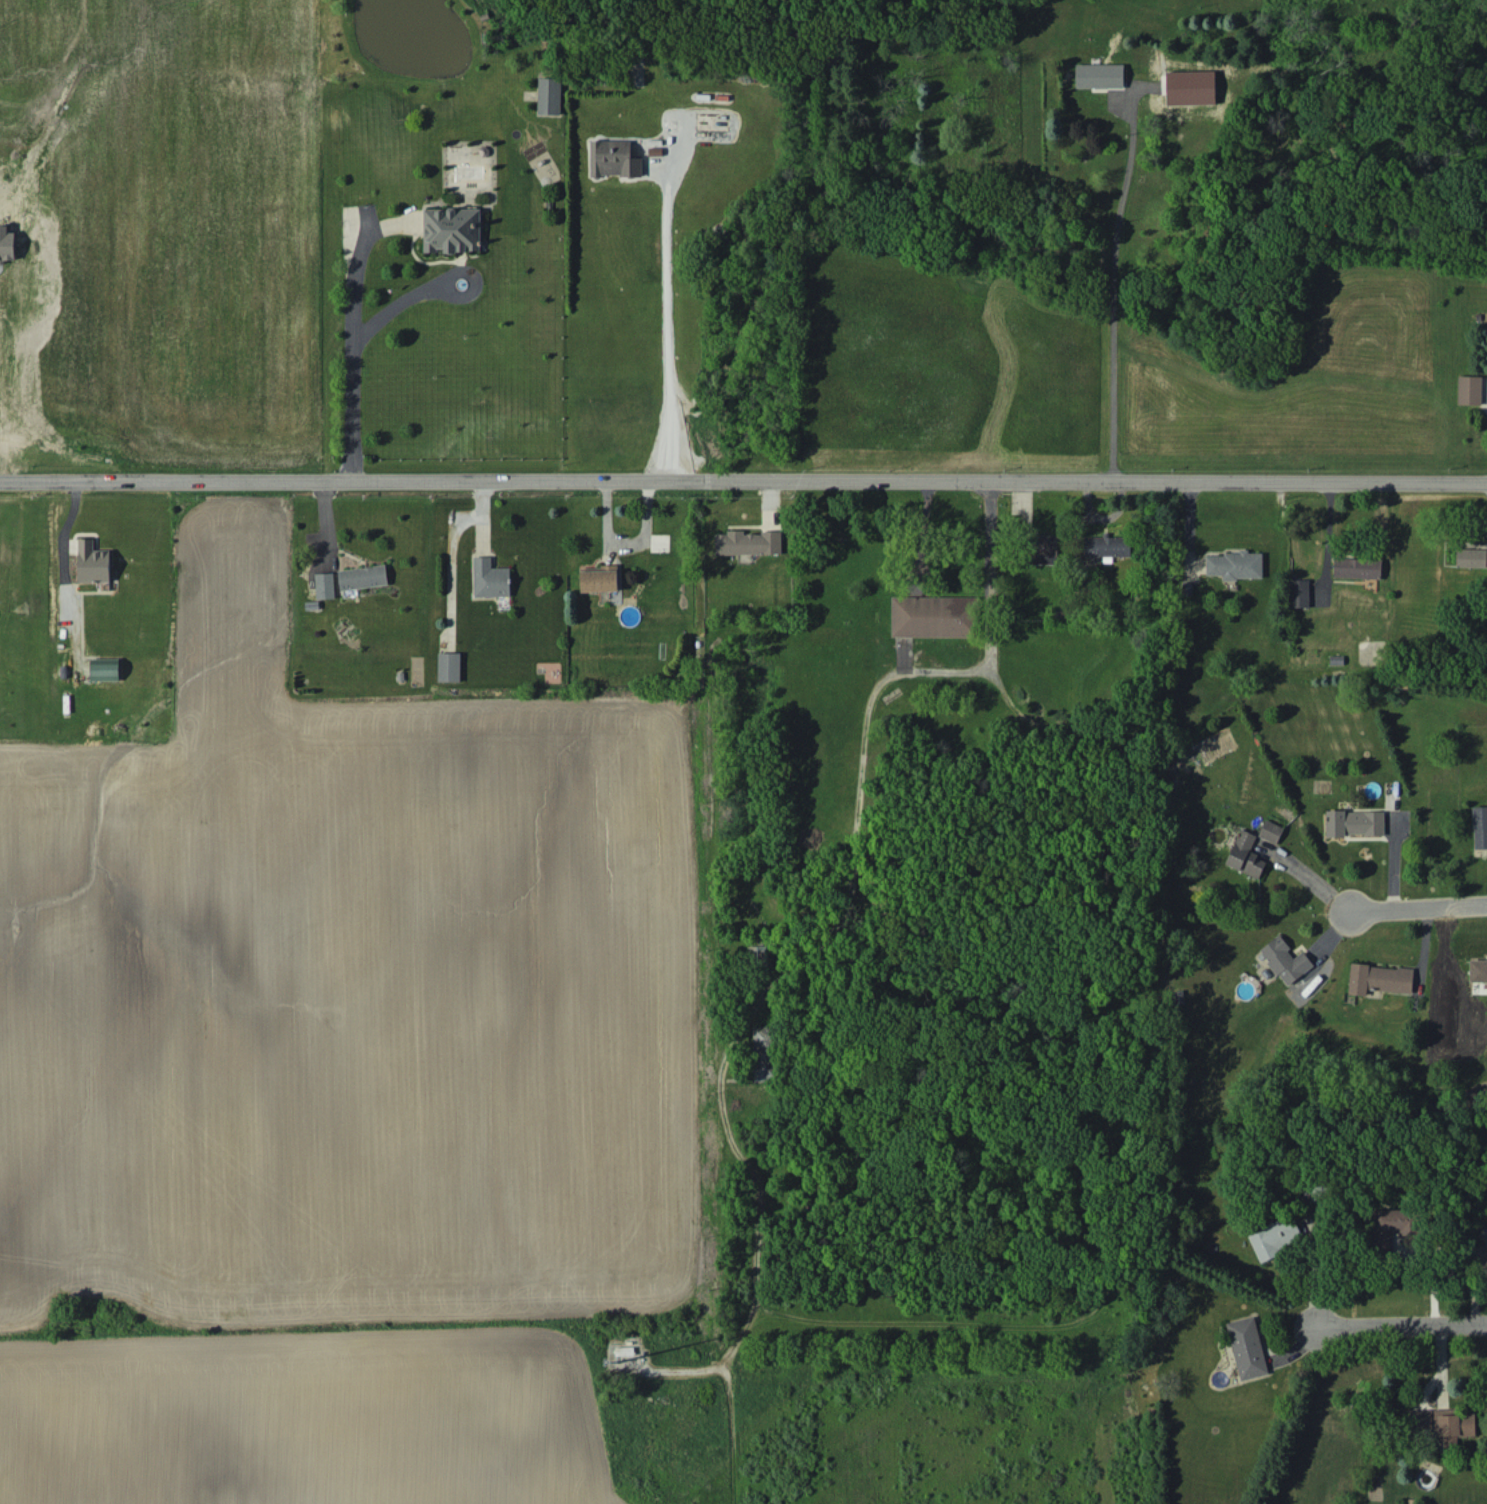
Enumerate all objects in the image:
building: (1099, 75)
building: (1190, 87)
building: (549, 95)
building: (654, 150)
building: (614, 158)
building: (451, 229)
building: (7, 243)
road: (436, 276)
road: (1117, 290)
road: (660, 316)
road: (350, 349)
building: (1469, 389)
road: (743, 473)
road: (914, 525)
road: (58, 530)
road: (1323, 532)
building: (748, 542)
building: (1106, 545)
building: (1044, 548)
building: (1471, 557)
building: (92, 562)
road: (987, 564)
building: (1235, 564)
building: (1357, 567)
building: (363, 576)
building: (490, 578)
building: (599, 578)
building: (325, 585)
building: (1299, 592)
building: (933, 616)
building: (449, 667)
building: (104, 669)
road: (857, 810)
building: (1355, 822)
building: (1480, 826)
building: (1270, 830)
building: (1245, 854)
road: (1408, 901)
building: (1285, 960)
building: (1478, 970)
building: (1379, 978)
building: (764, 1052)
building: (1393, 1224)
building: (1485, 1235)
building: (1275, 1237)
road: (1392, 1321)
building: (1247, 1347)
building: (1423, 1421)
building: (1454, 1425)

